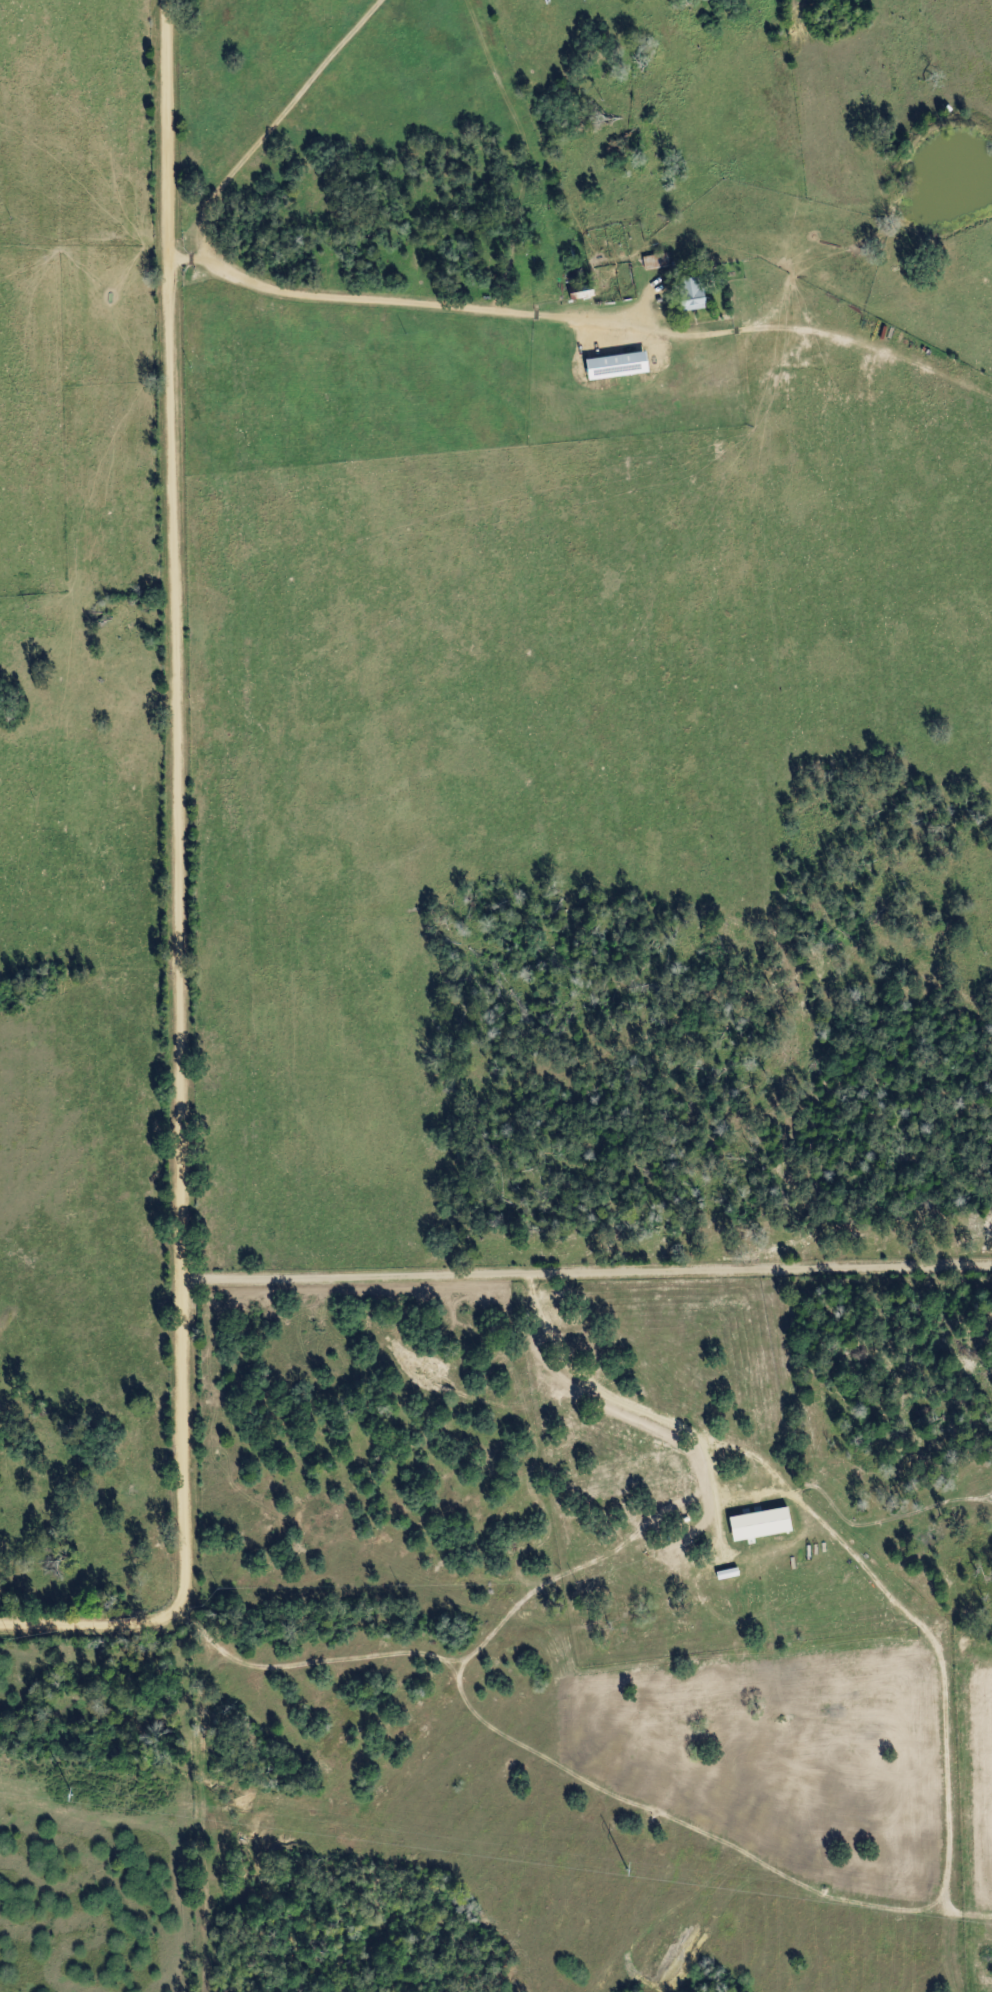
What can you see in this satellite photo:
road: (279, 122)
road: (191, 258)
building: (649, 262)
building: (575, 293)
building: (686, 294)
road: (608, 316)
road: (187, 897)
road: (590, 1271)
power tower: (66, 1797)
power tower: (622, 1869)

